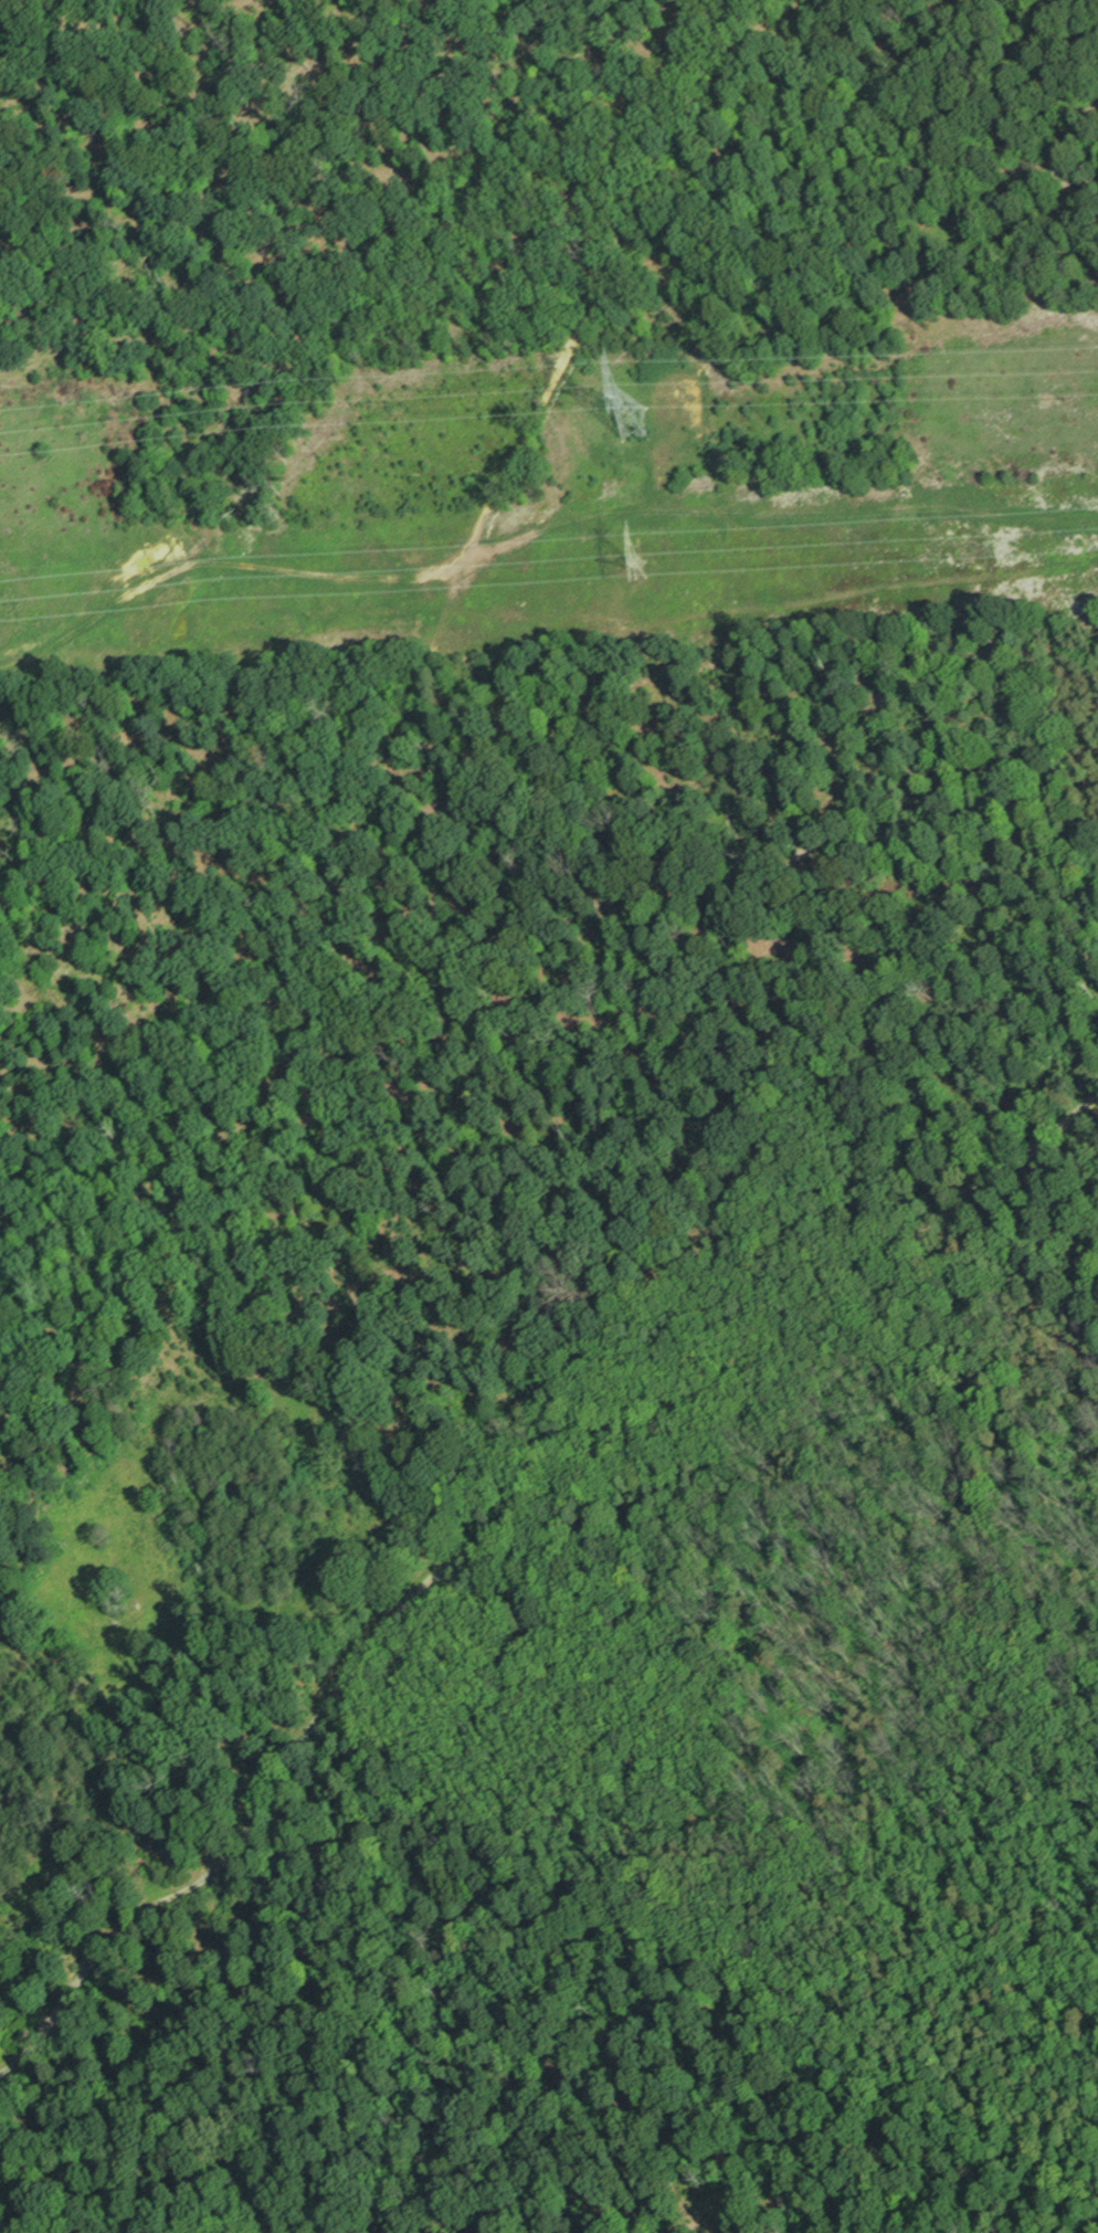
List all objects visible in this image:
power tower: (636, 422)
power tower: (642, 569)
road: (34, 2029)

